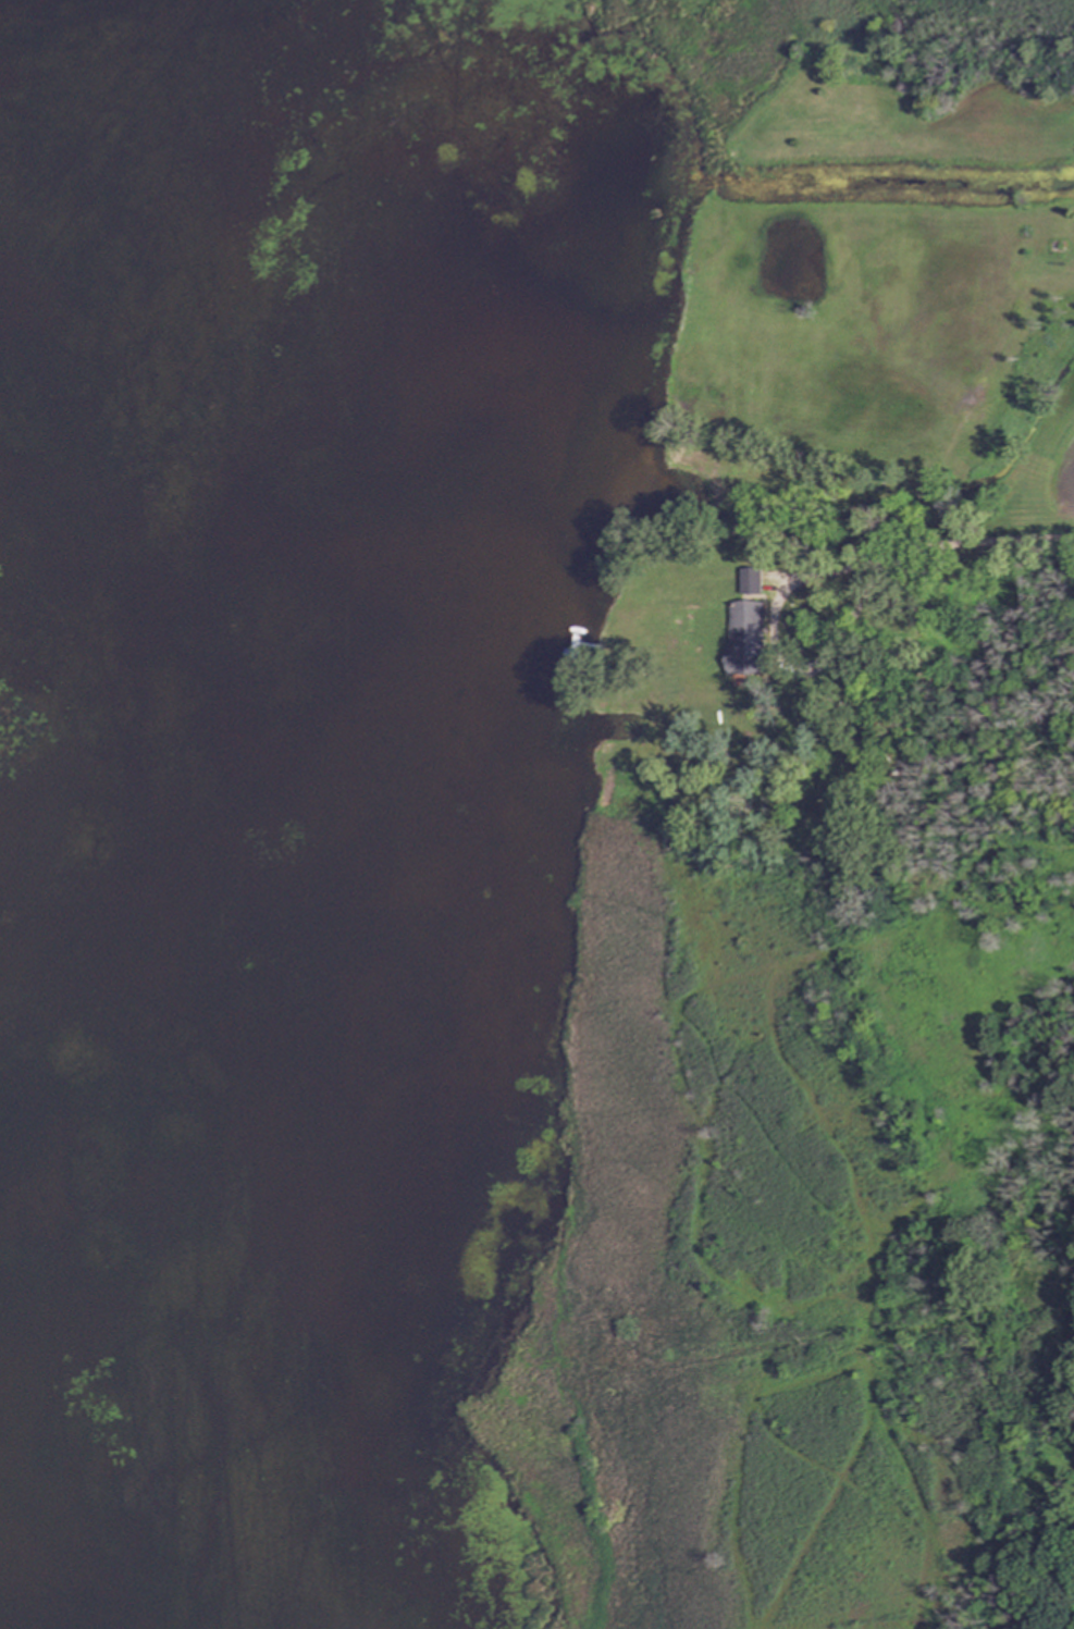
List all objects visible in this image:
road: (1016, 542)
road: (766, 616)

